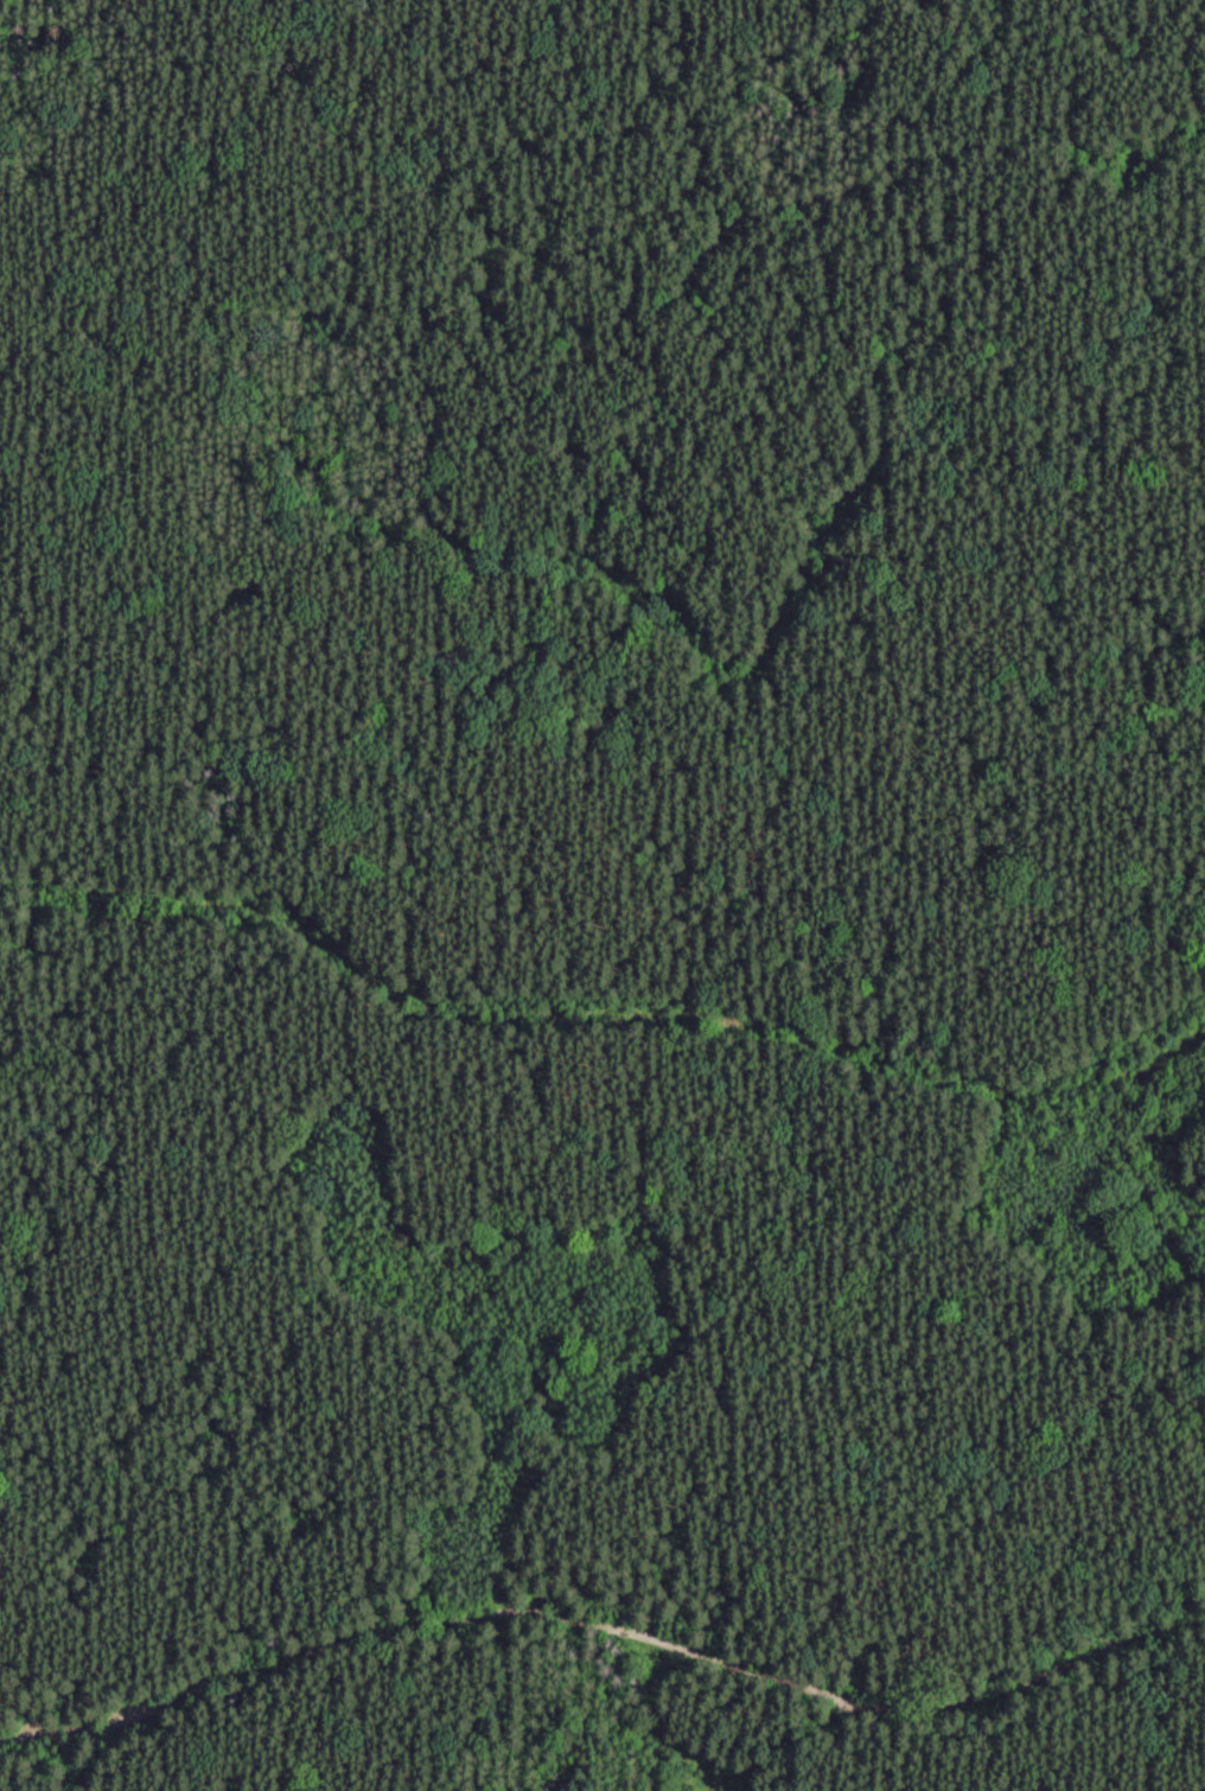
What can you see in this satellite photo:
road: (604, 1631)

